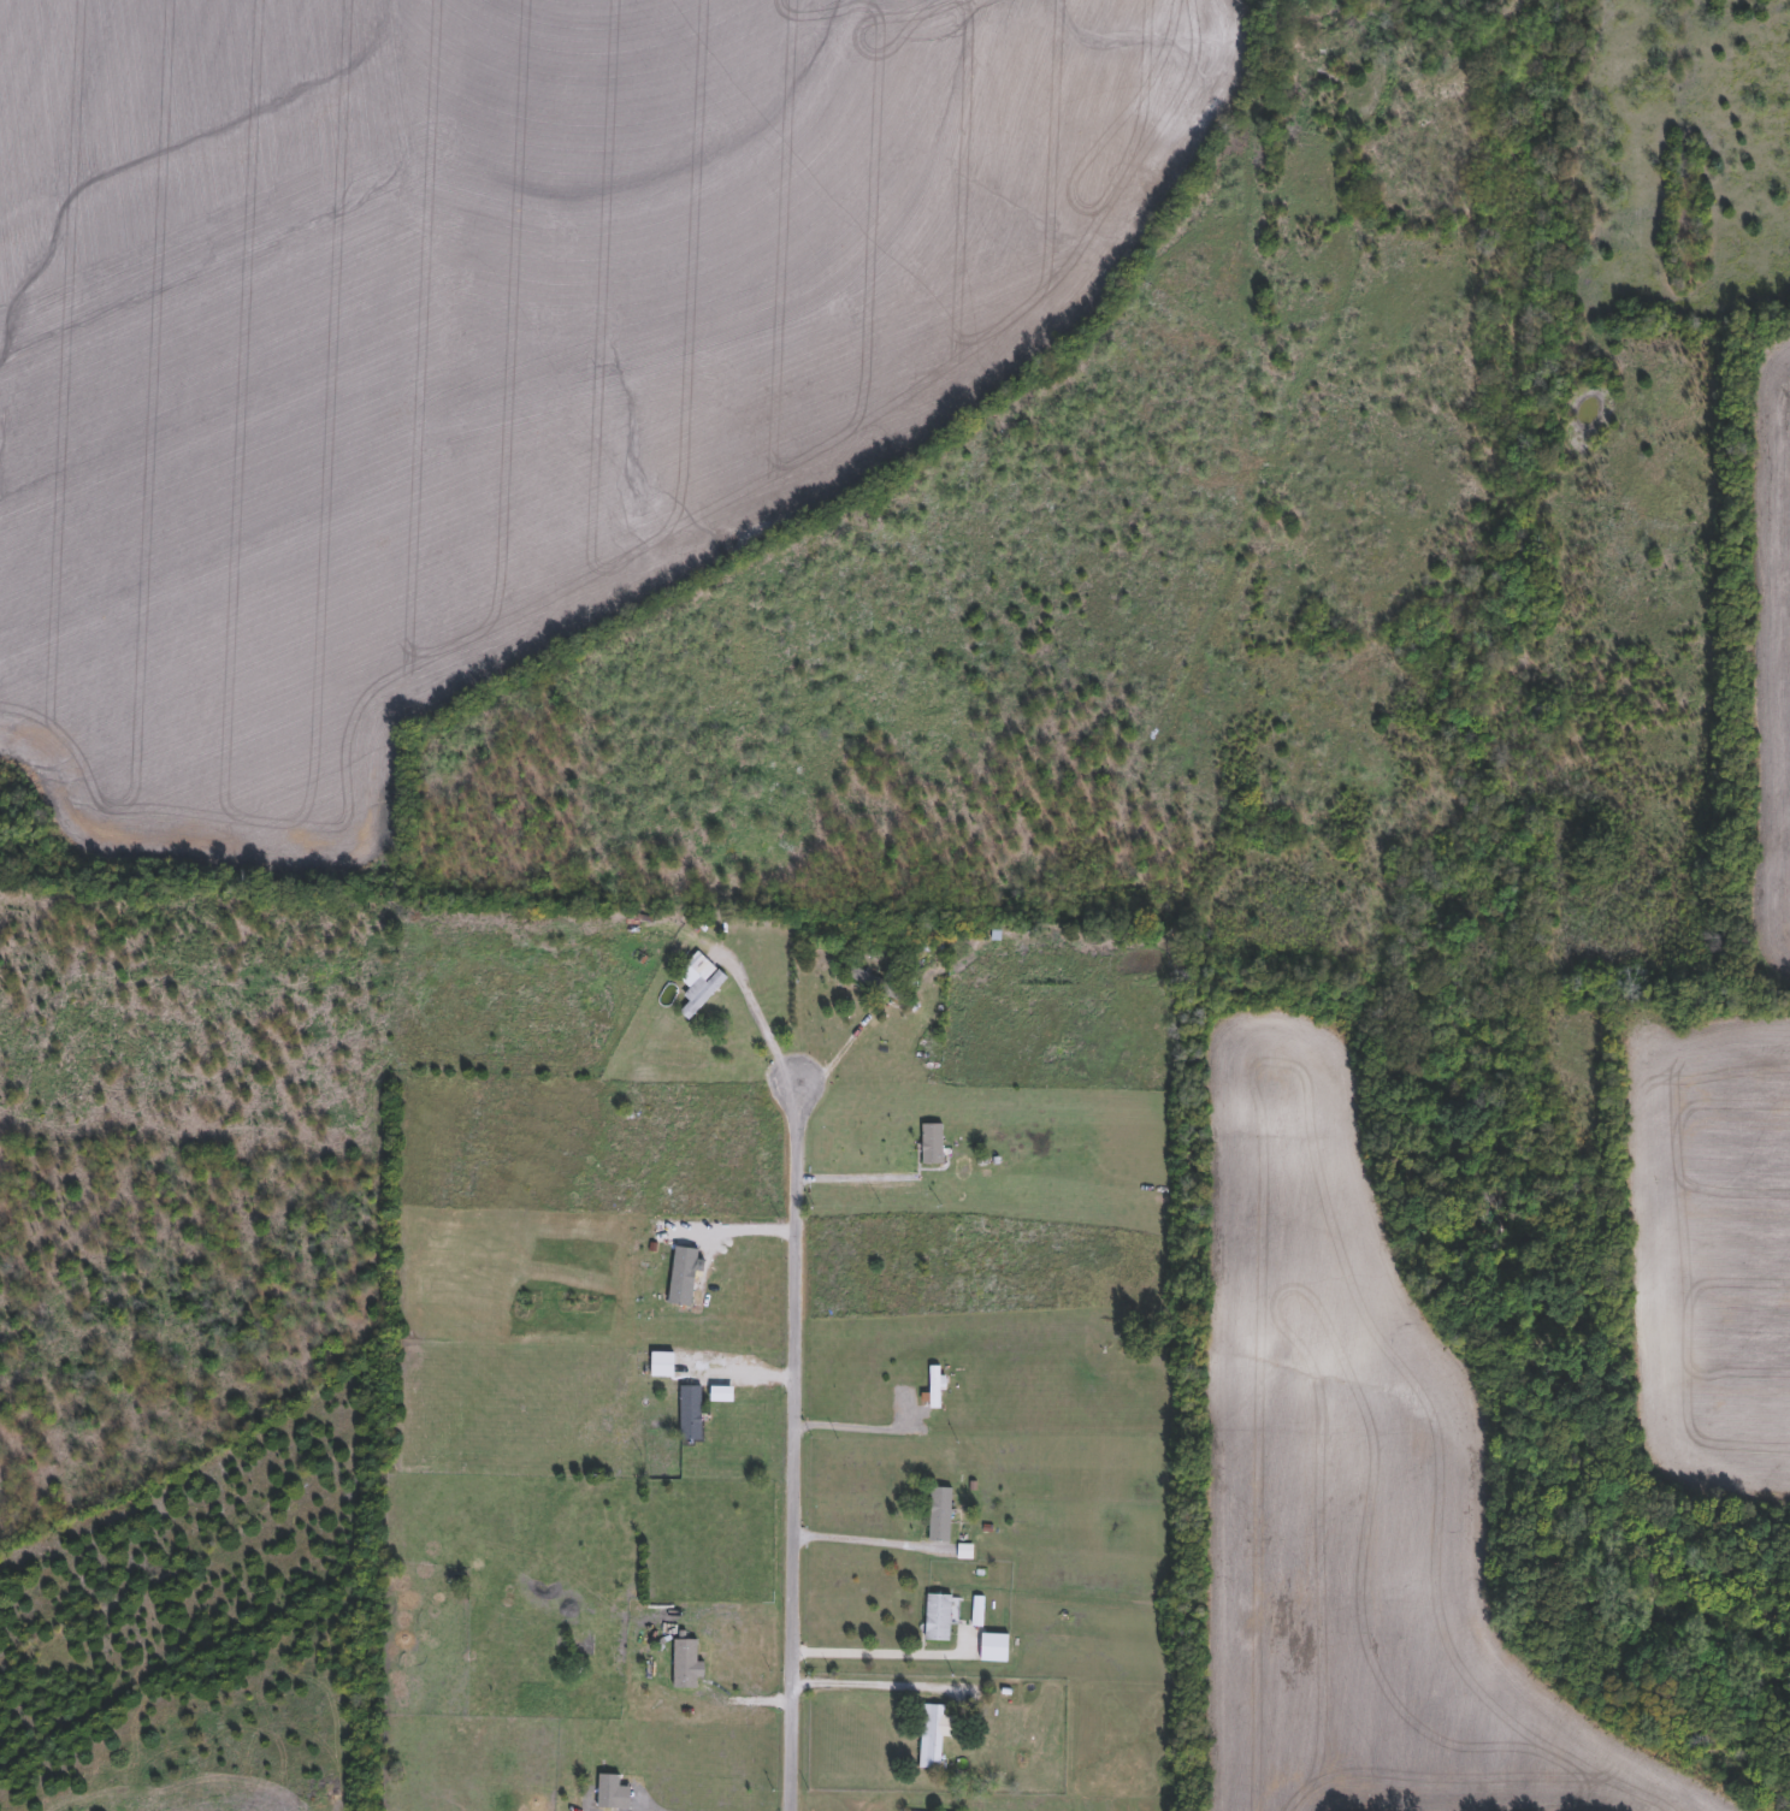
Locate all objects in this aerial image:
building: (697, 982)
building: (873, 983)
road: (750, 1019)
road: (837, 1059)
building: (931, 1144)
road: (851, 1176)
road: (734, 1235)
building: (934, 1387)
building: (689, 1414)
road: (856, 1426)
road: (791, 1450)
building: (940, 1515)
road: (861, 1539)
building: (938, 1618)
building: (993, 1649)
road: (863, 1652)
road: (863, 1682)
building: (933, 1735)
road: (696, 1807)

